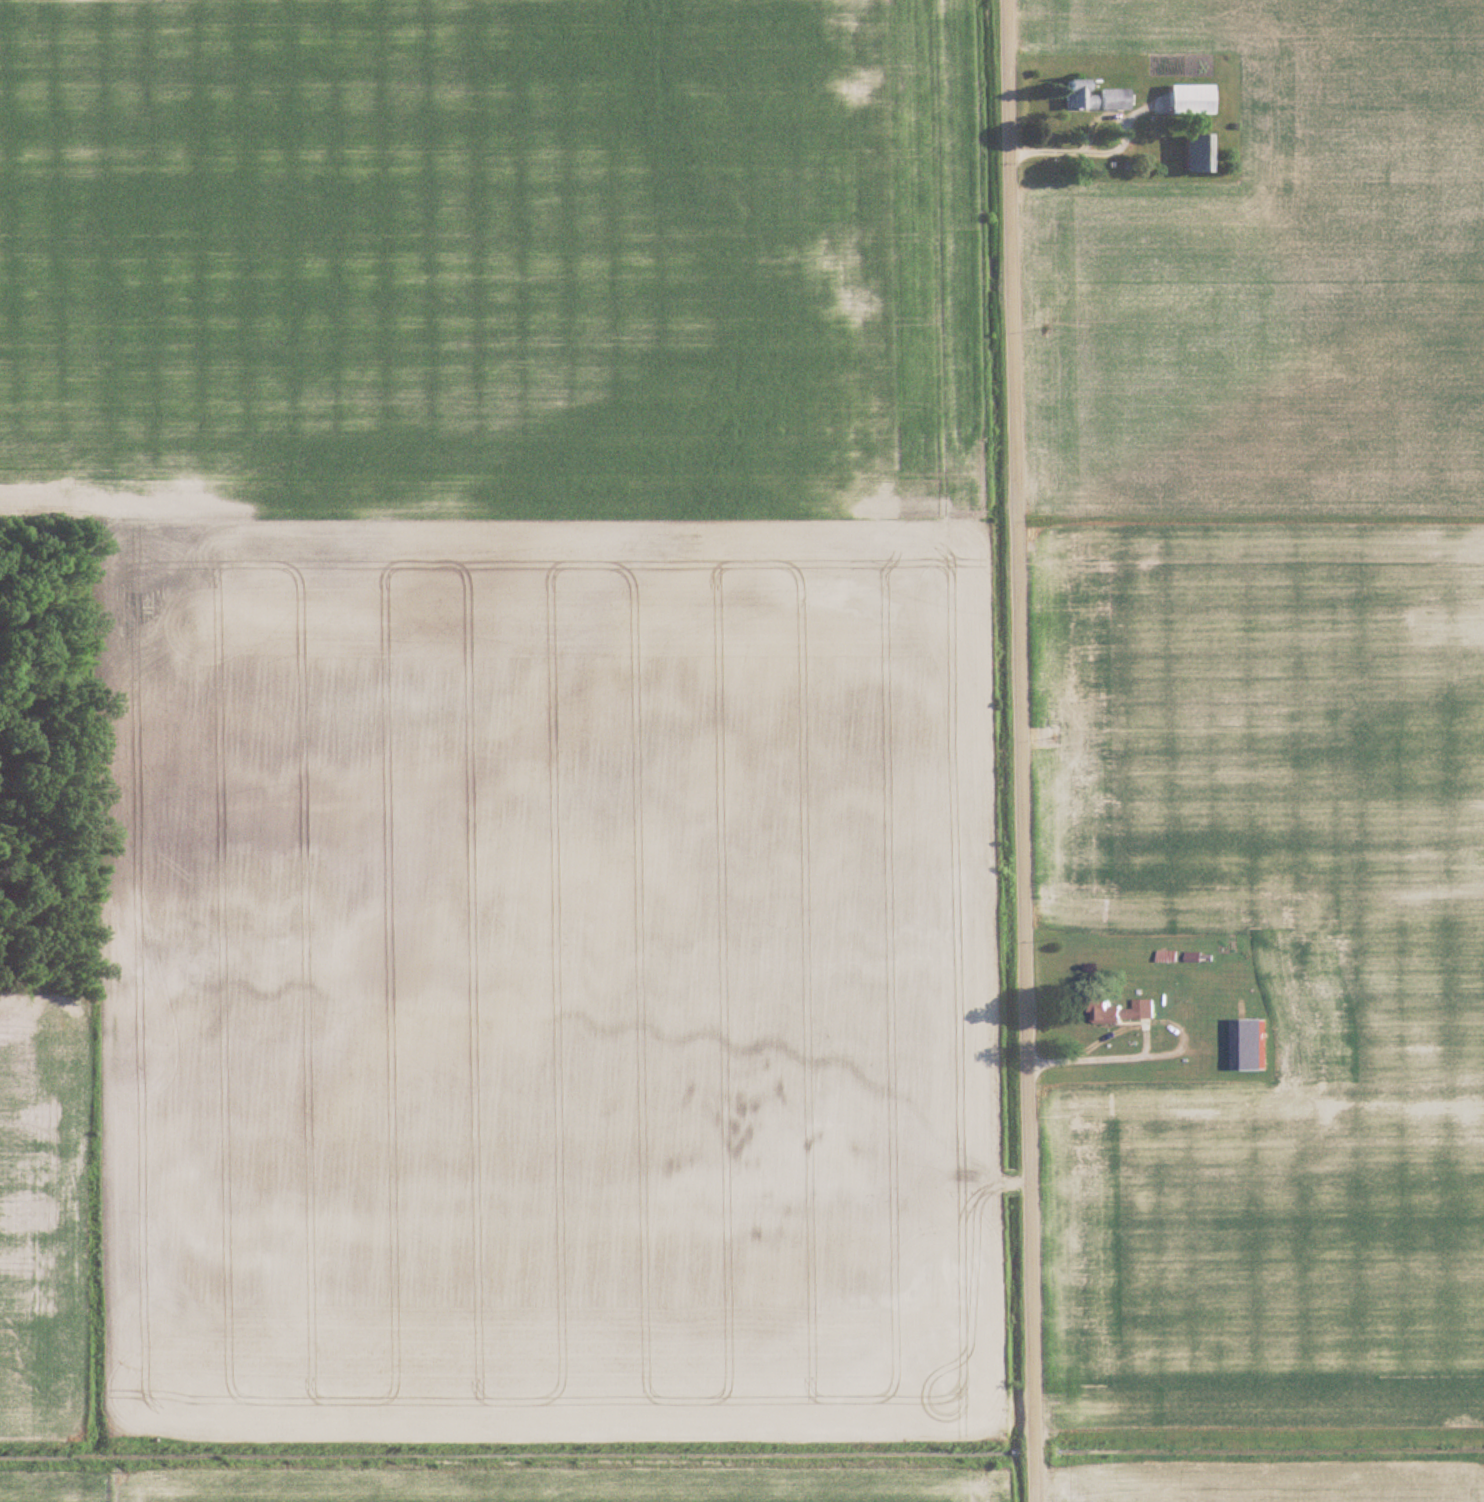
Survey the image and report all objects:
building: (1090, 97)
building: (1183, 99)
road: (1093, 127)
building: (1193, 154)
road: (1017, 751)
building: (1120, 1010)
building: (1248, 1044)
road: (1094, 1058)

